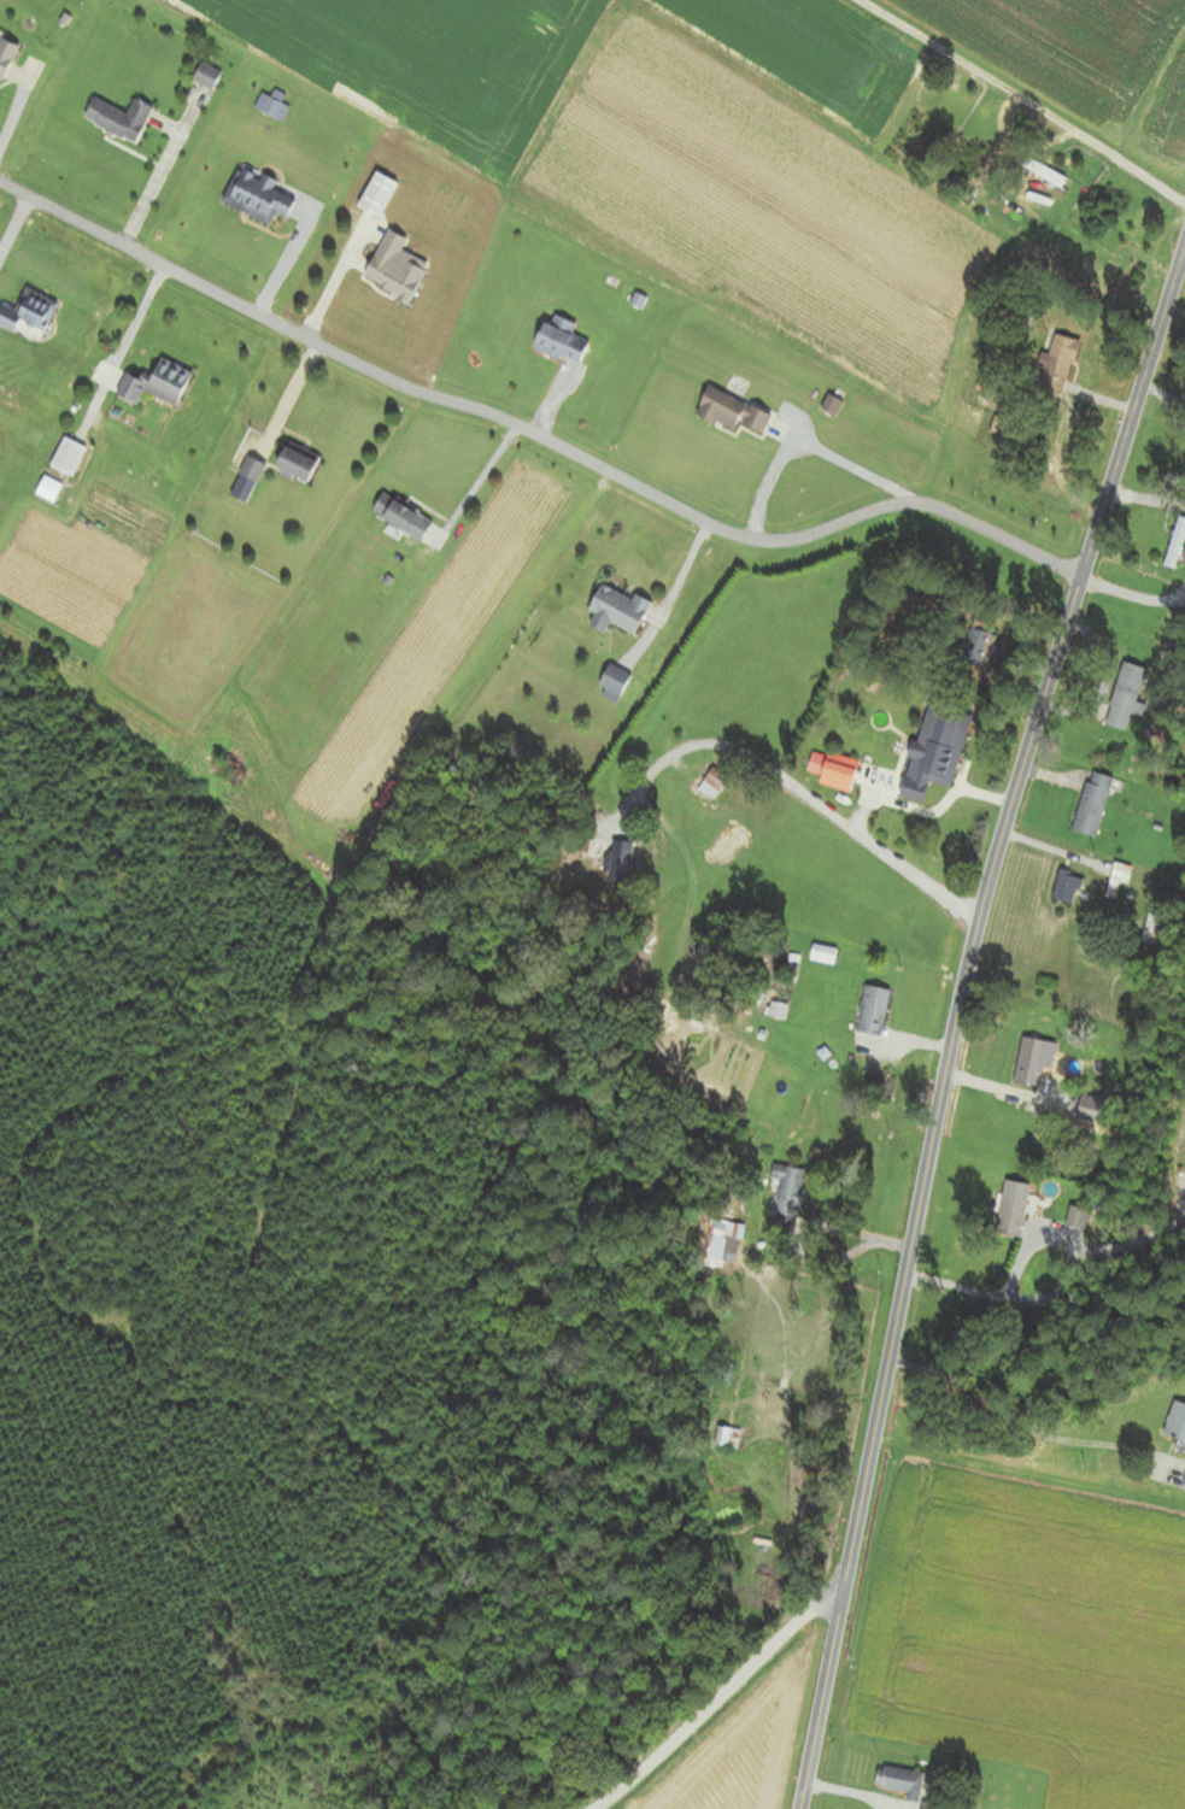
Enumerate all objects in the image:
building: (5, 59)
building: (206, 76)
road: (1019, 98)
building: (119, 118)
building: (964, 161)
building: (1045, 175)
road: (158, 187)
building: (376, 194)
building: (258, 196)
road: (291, 264)
building: (394, 268)
building: (28, 313)
building: (561, 341)
building: (1057, 364)
building: (156, 384)
building: (993, 388)
building: (732, 413)
road: (535, 436)
building: (68, 457)
building: (295, 465)
building: (247, 478)
road: (476, 480)
building: (47, 491)
road: (1148, 498)
building: (401, 517)
building: (1174, 544)
road: (1134, 595)
building: (622, 612)
building: (976, 644)
building: (1125, 699)
building: (923, 756)
building: (838, 773)
road: (788, 780)
building: (711, 783)
building: (1091, 805)
building: (621, 862)
building: (1116, 880)
building: (1064, 887)
building: (1151, 929)
building: (822, 955)
building: (870, 1011)
road: (958, 1020)
building: (1028, 1062)
building: (785, 1199)
building: (1015, 1209)
building: (715, 1247)
building: (1175, 1425)
building: (726, 1438)
building: (1183, 1485)
road: (718, 1696)
building: (897, 1780)
building: (931, 1807)

